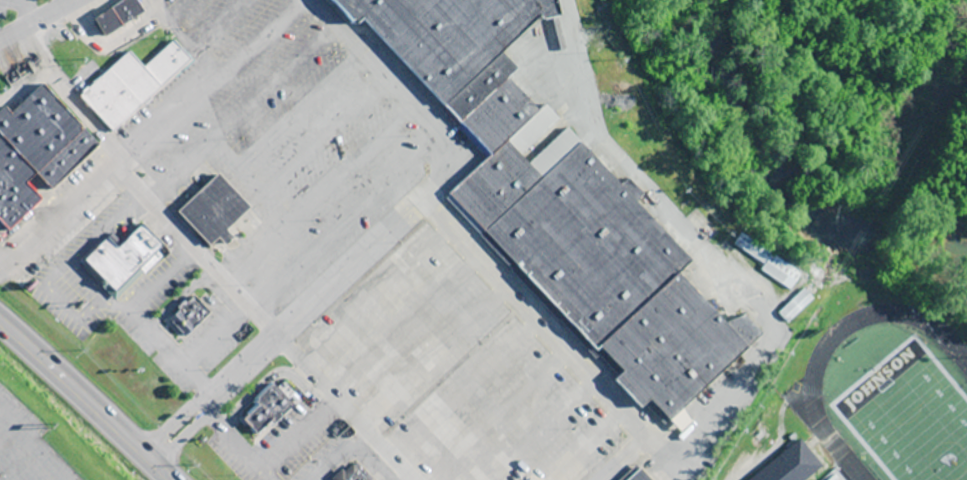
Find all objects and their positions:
parking lot: (15, 8)
building: (117, 16)
road: (35, 19)
building: (133, 85)
road: (402, 93)
road: (154, 132)
parking lot: (294, 139)
building: (38, 150)
river: (783, 181)
road: (428, 198)
building: (552, 203)
building: (213, 208)
building: (712, 224)
road: (705, 251)
building: (122, 259)
building: (768, 272)
building: (188, 312)
building: (793, 315)
parking lot: (458, 371)
track: (803, 389)
road: (88, 397)
building: (270, 404)
park: (908, 415)
road: (766, 445)
parking lot: (19, 460)
building: (792, 467)
building: (352, 472)
building: (638, 477)
building: (833, 477)

